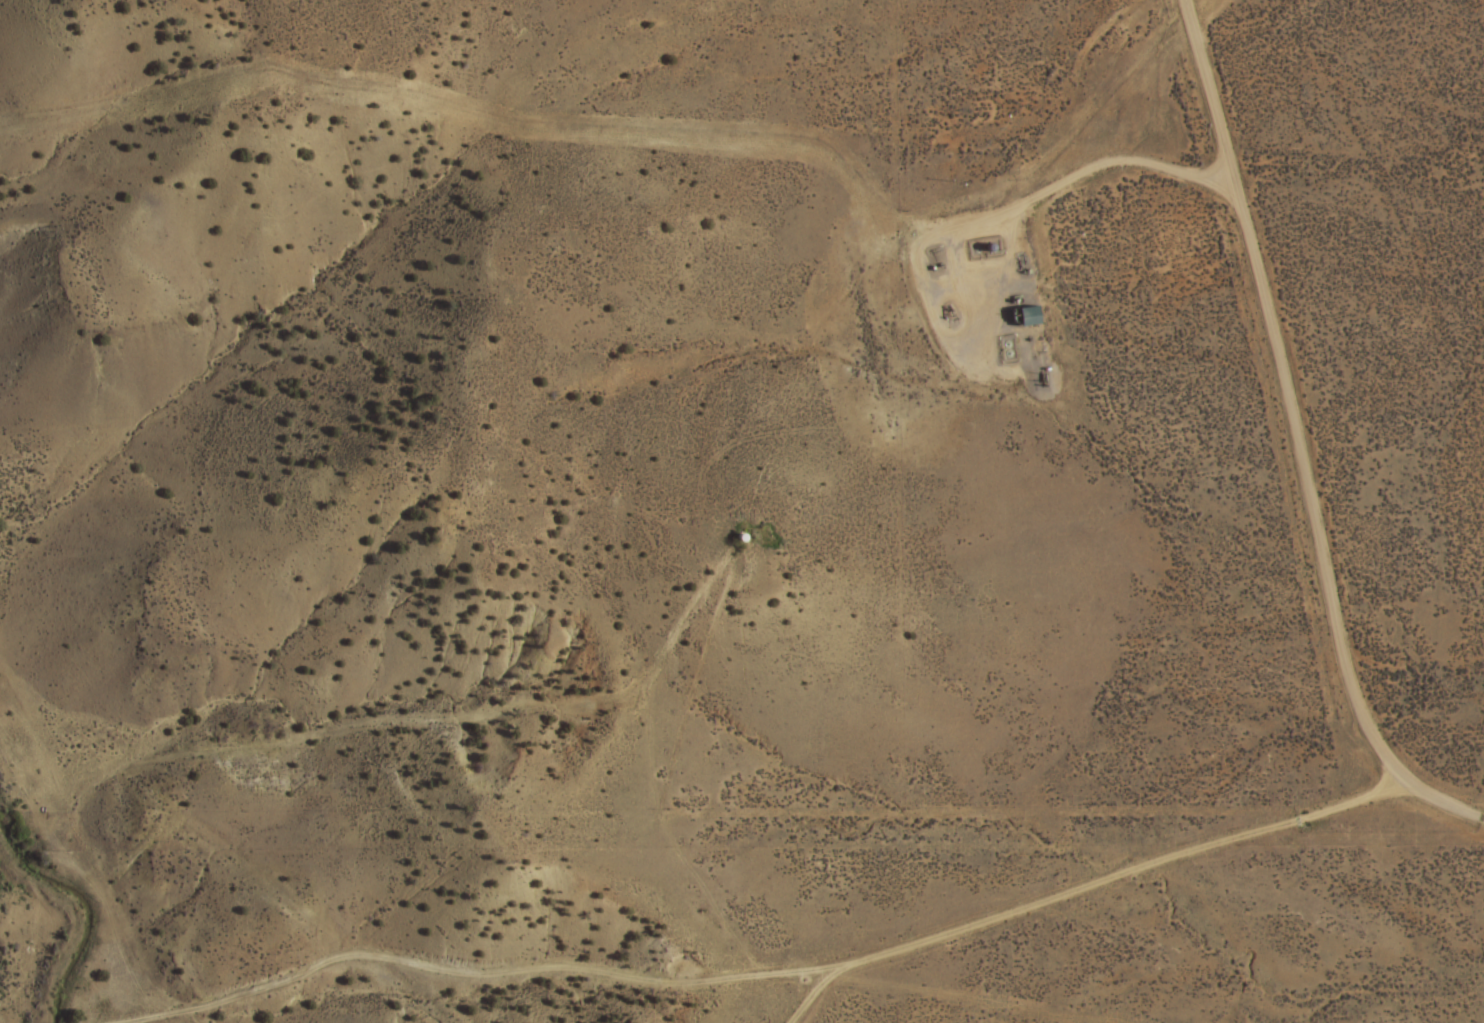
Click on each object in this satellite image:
road: (1210, 13)
building: (1035, 316)
road: (1299, 439)

